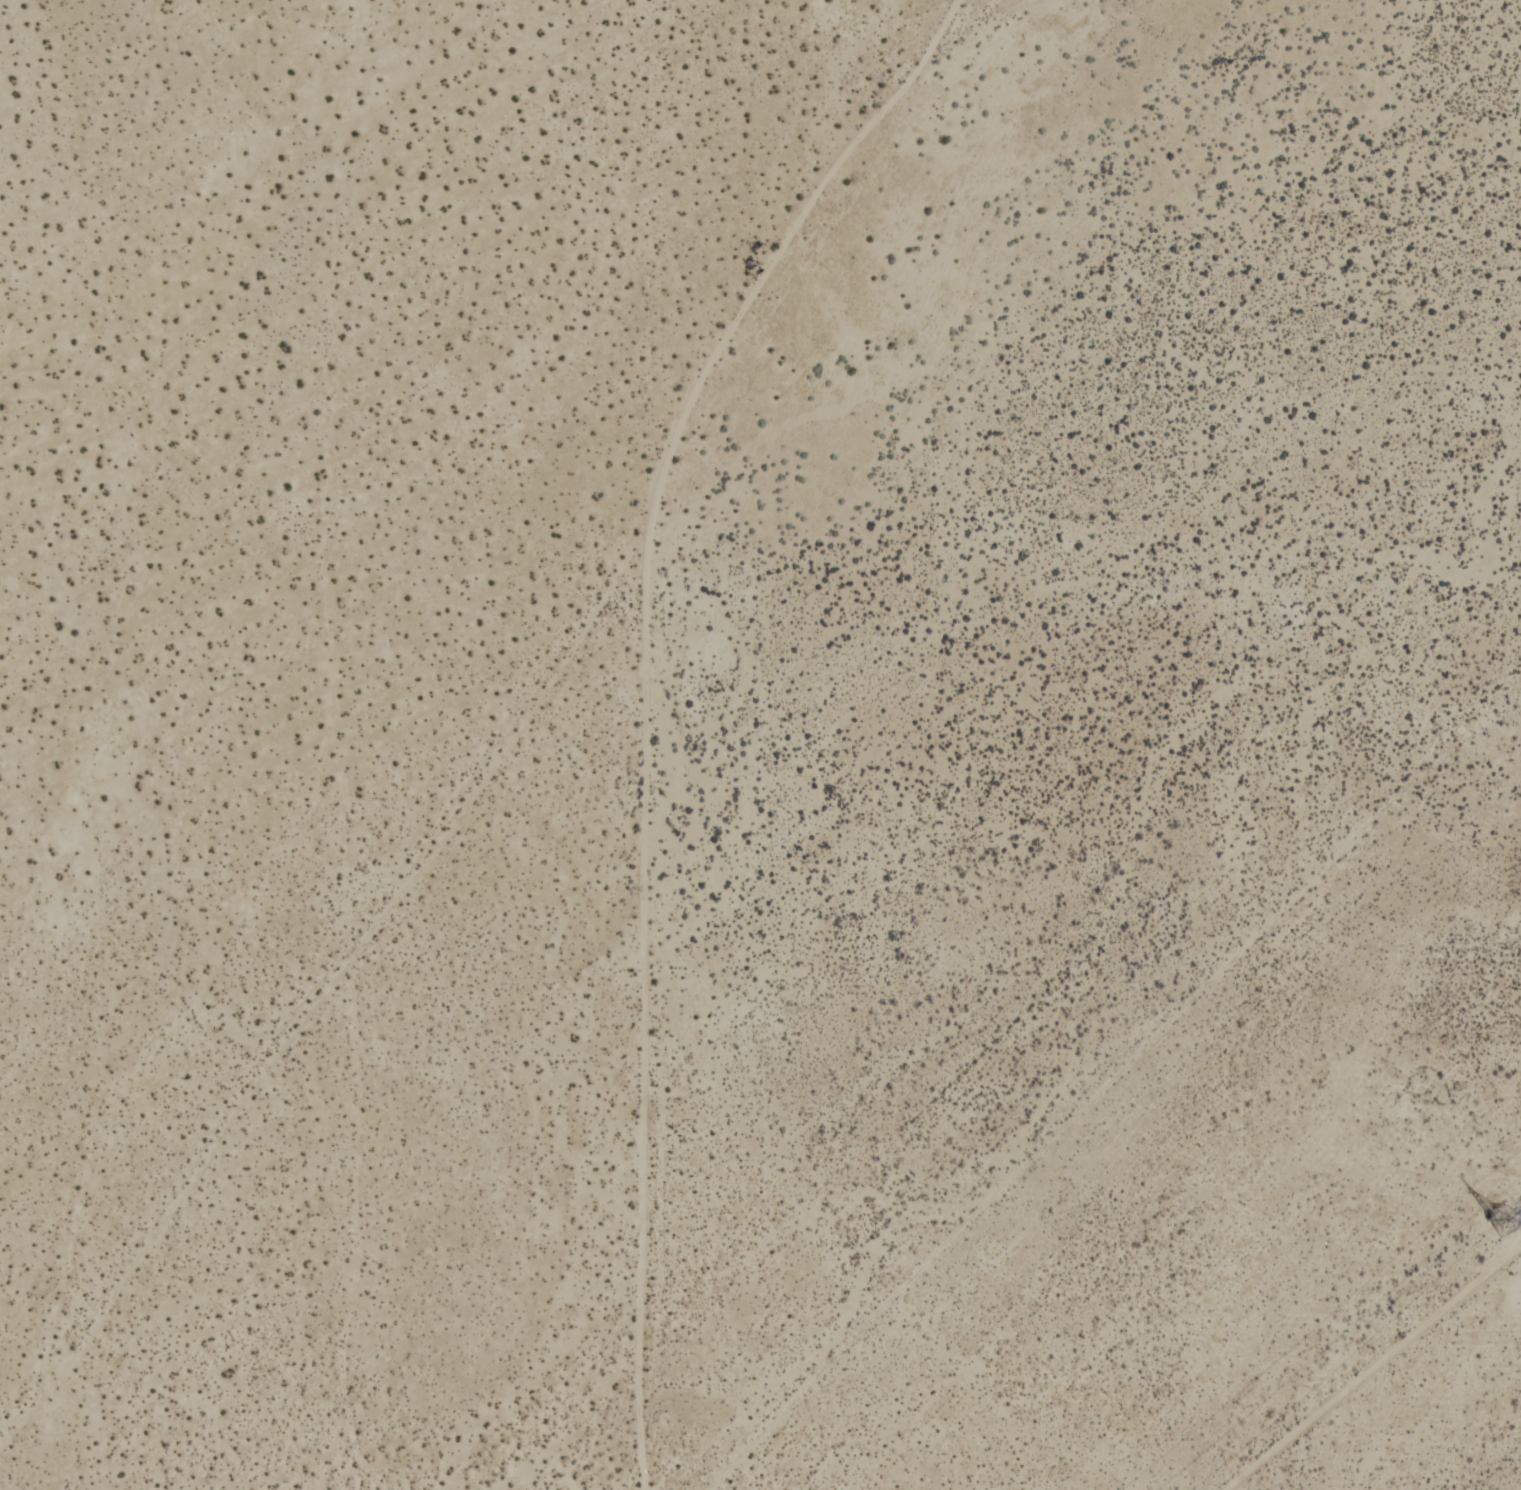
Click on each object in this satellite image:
power tower: (1499, 1222)

